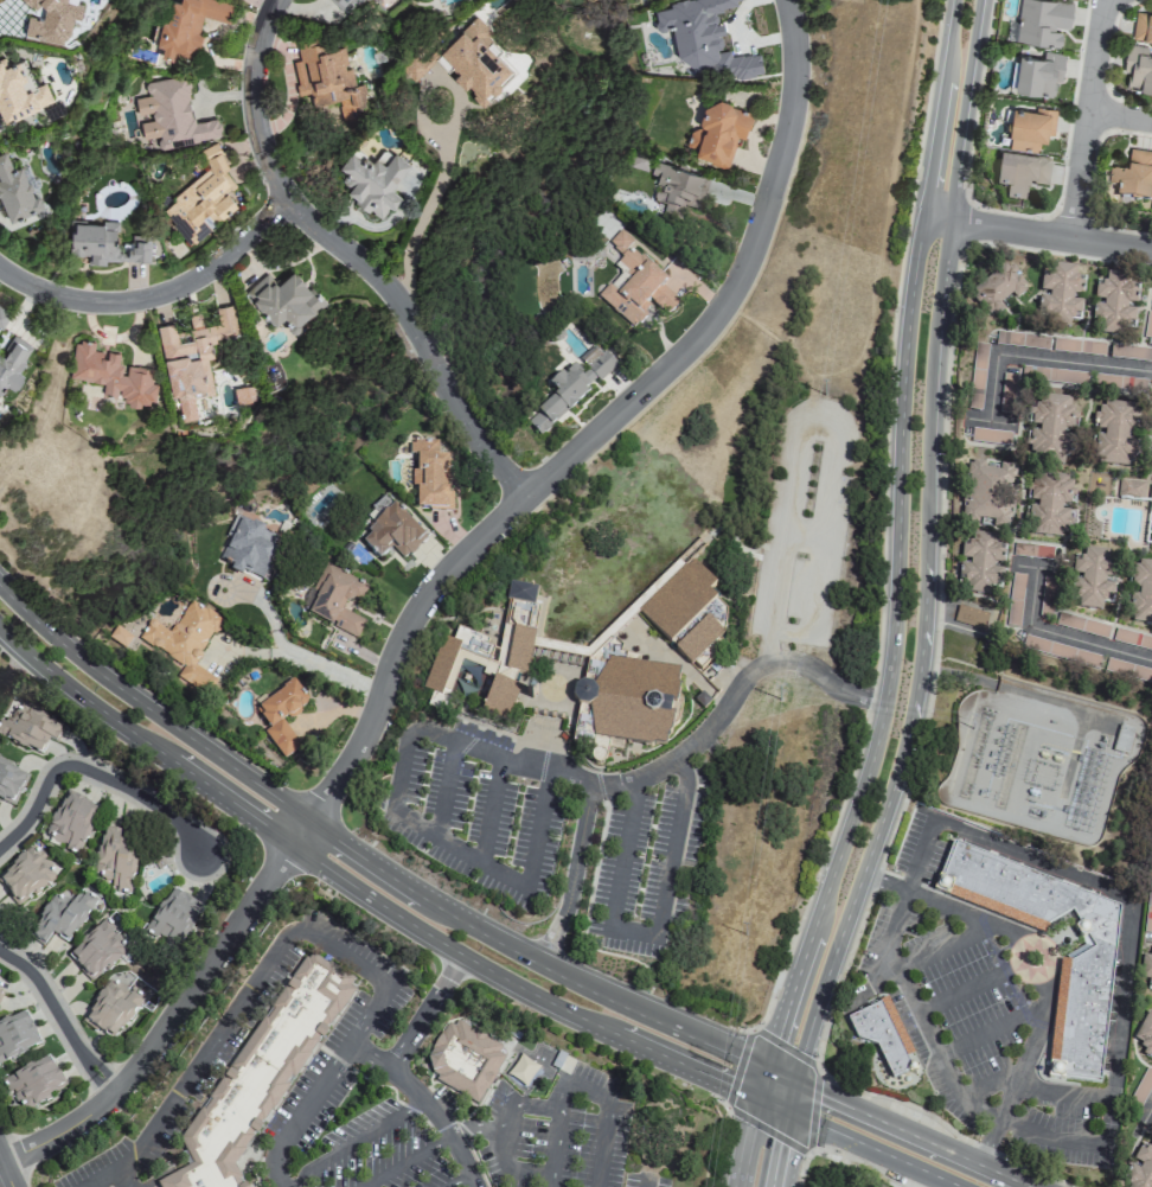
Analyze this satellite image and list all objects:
building: (346, 4)
road: (263, 6)
building: (52, 19)
building: (1042, 23)
building: (188, 26)
building: (1143, 27)
building: (704, 37)
building: (466, 62)
building: (1138, 69)
building: (1038, 75)
building: (327, 77)
building: (19, 92)
road: (953, 108)
building: (171, 116)
road: (1120, 116)
road: (1087, 119)
building: (1030, 129)
building: (721, 133)
building: (638, 161)
building: (1022, 171)
building: (1133, 177)
building: (371, 181)
building: (678, 189)
building: (15, 190)
building: (203, 199)
building: (1151, 205)
road: (884, 223)
road: (1045, 234)
building: (105, 243)
road: (353, 256)
building: (633, 285)
building: (998, 289)
building: (1058, 295)
road: (158, 298)
building: (283, 300)
building: (1114, 304)
building: (4, 318)
building: (1147, 325)
road: (794, 343)
building: (1077, 345)
building: (193, 356)
road: (1042, 359)
building: (12, 364)
building: (113, 375)
building: (568, 391)
parking lot: (808, 419)
road: (817, 420)
road: (991, 422)
building: (1049, 427)
building: (1114, 433)
building: (430, 477)
building: (1129, 487)
building: (987, 493)
building: (1049, 504)
building: (1150, 525)
building: (391, 535)
building: (249, 547)
building: (980, 564)
road: (1038, 569)
building: (1090, 576)
road: (431, 589)
building: (1140, 593)
building: (333, 599)
building: (683, 611)
building: (715, 611)
building: (972, 615)
road: (1063, 637)
building: (185, 644)
building: (1060, 650)
road: (891, 651)
road: (299, 655)
building: (487, 655)
road: (921, 658)
building: (623, 703)
building: (281, 717)
building: (28, 728)
power substation: (1039, 758)
road: (671, 760)
road: (92, 773)
building: (9, 783)
road: (444, 789)
road: (395, 806)
road: (491, 810)
building: (70, 822)
building: (114, 856)
road: (369, 863)
building: (25, 876)
road: (945, 905)
building: (1148, 906)
building: (60, 918)
building: (171, 919)
road: (647, 936)
road: (941, 944)
building: (96, 951)
road: (453, 952)
building: (1146, 969)
road: (1044, 972)
building: (0, 991)
building: (110, 1009)
building: (1079, 1017)
road: (60, 1019)
road: (223, 1021)
building: (1145, 1034)
building: (15, 1035)
building: (882, 1035)
road: (365, 1054)
building: (462, 1060)
road: (1020, 1071)
road: (1114, 1071)
road: (396, 1072)
building: (260, 1076)
traffic signals: (779, 1076)
road: (815, 1076)
road: (319, 1081)
building: (33, 1083)
road: (1063, 1091)
road: (590, 1095)
traffic signals: (770, 1105)
road: (1146, 1116)
road: (945, 1127)
road: (478, 1128)
road: (505, 1128)
road: (764, 1130)
road: (903, 1131)
road: (556, 1134)
road: (354, 1142)
road: (603, 1147)
road: (407, 1160)
road: (845, 1164)
building: (1140, 1168)
road: (6, 1170)
road: (525, 1170)
road: (4, 1173)
road: (120, 1176)
road: (457, 1180)
road: (646, 1185)

